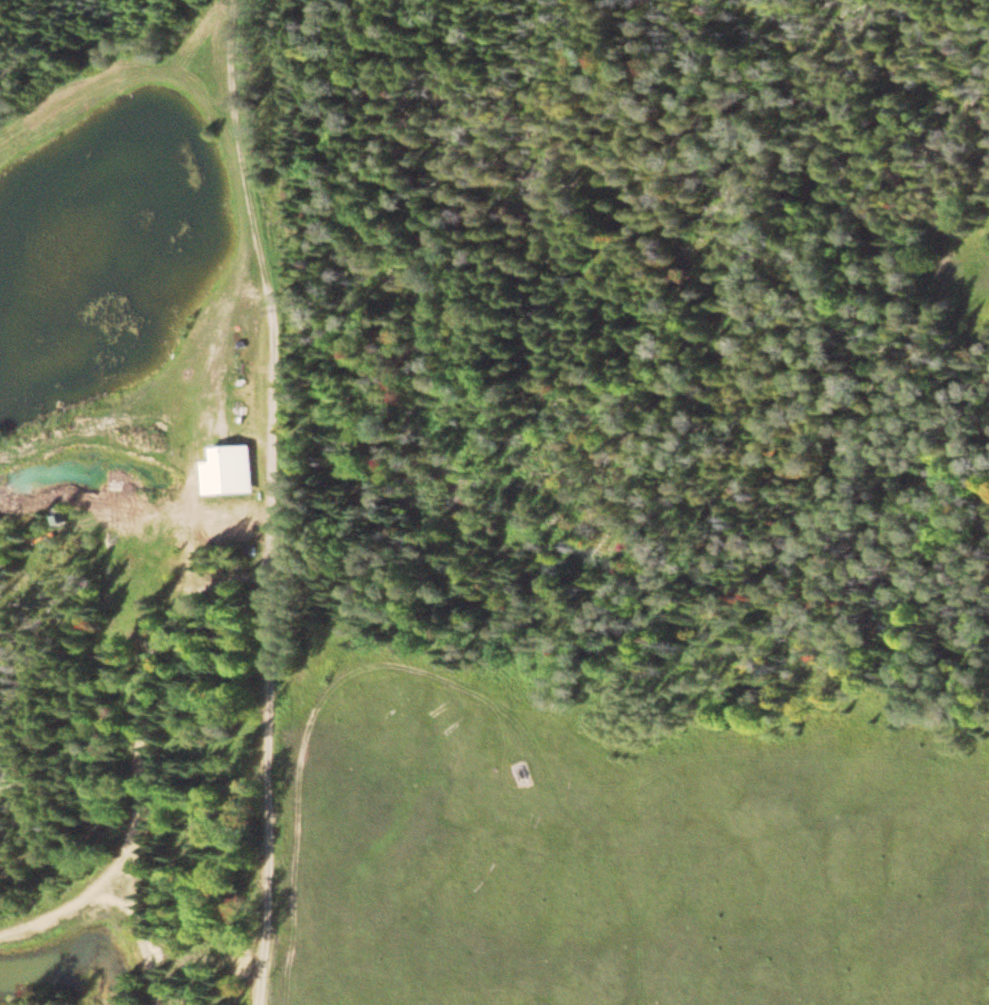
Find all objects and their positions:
building: (229, 471)
building: (59, 517)
road: (267, 758)
petroleum well: (526, 776)

